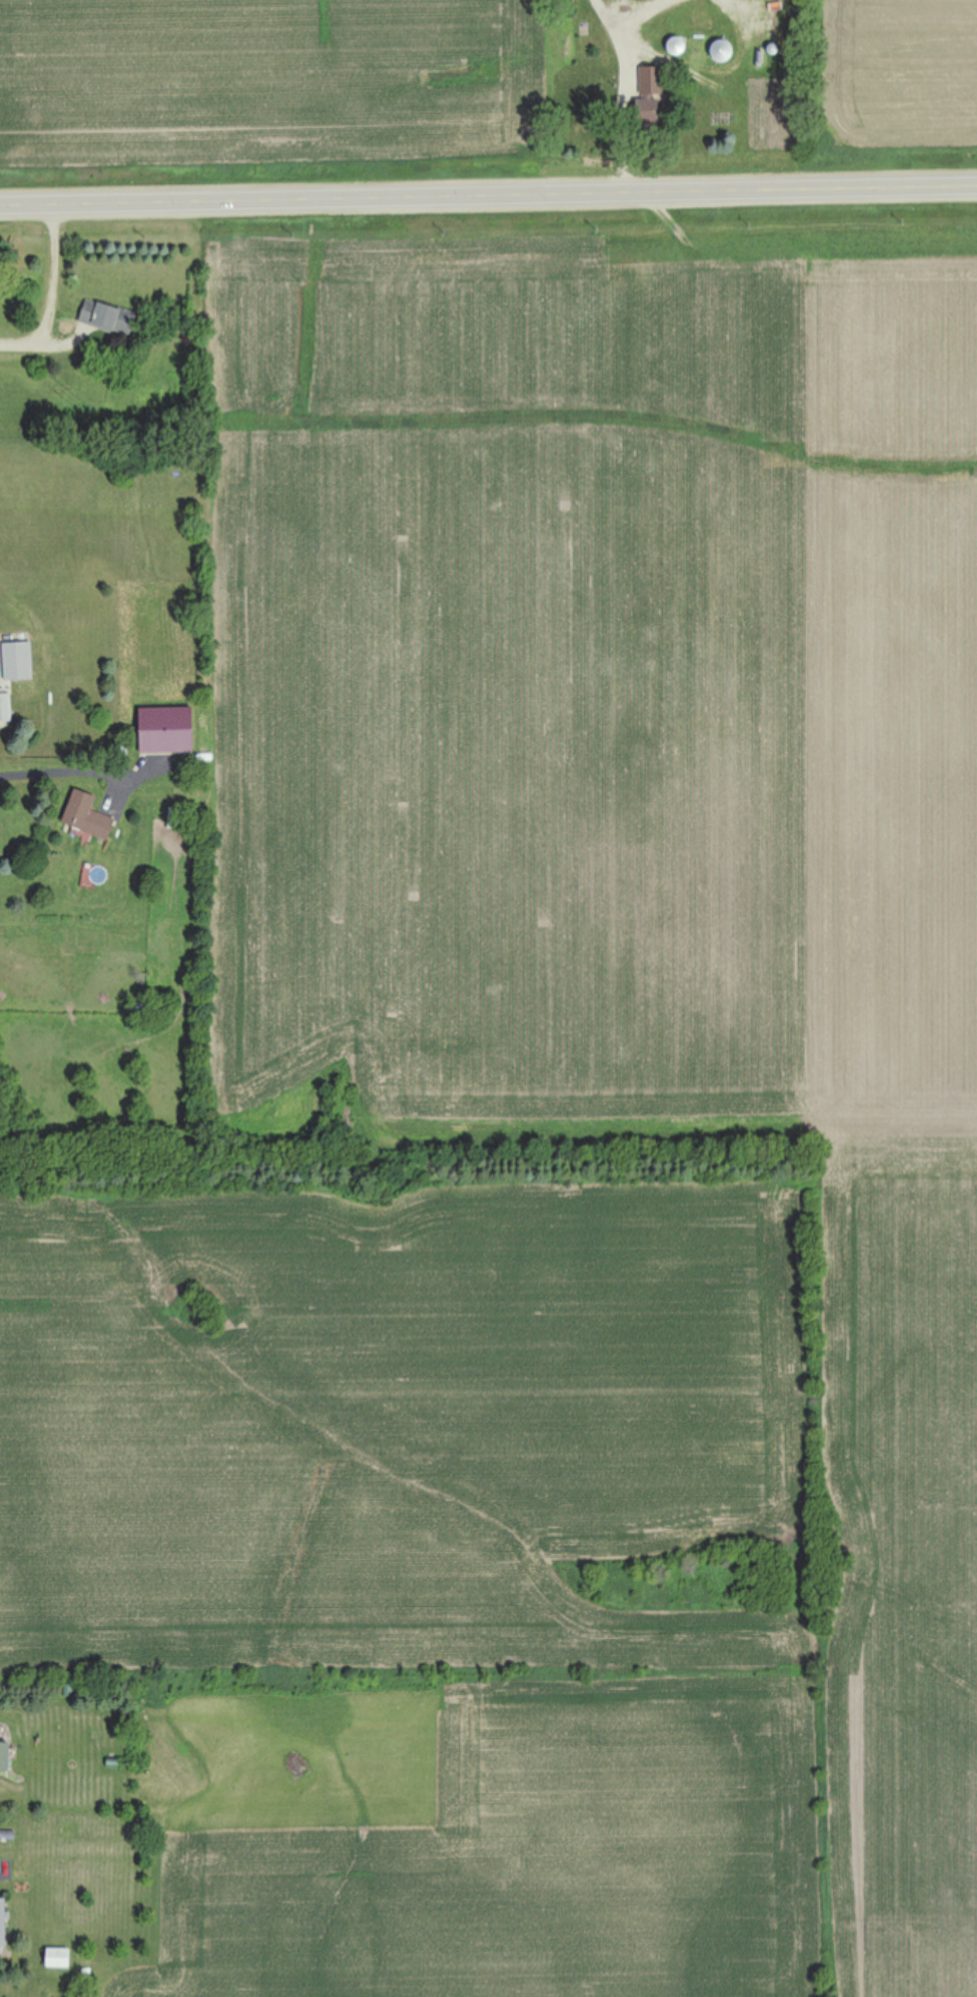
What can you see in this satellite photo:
building: (677, 46)
building: (722, 52)
road: (488, 200)
road: (43, 288)
building: (109, 318)
building: (18, 675)
building: (5, 707)
building: (168, 729)
road: (79, 760)
building: (88, 815)
building: (177, 818)
building: (145, 1009)
crop: (551, 1132)
building: (4, 1758)
building: (3, 1923)
building: (59, 1959)

